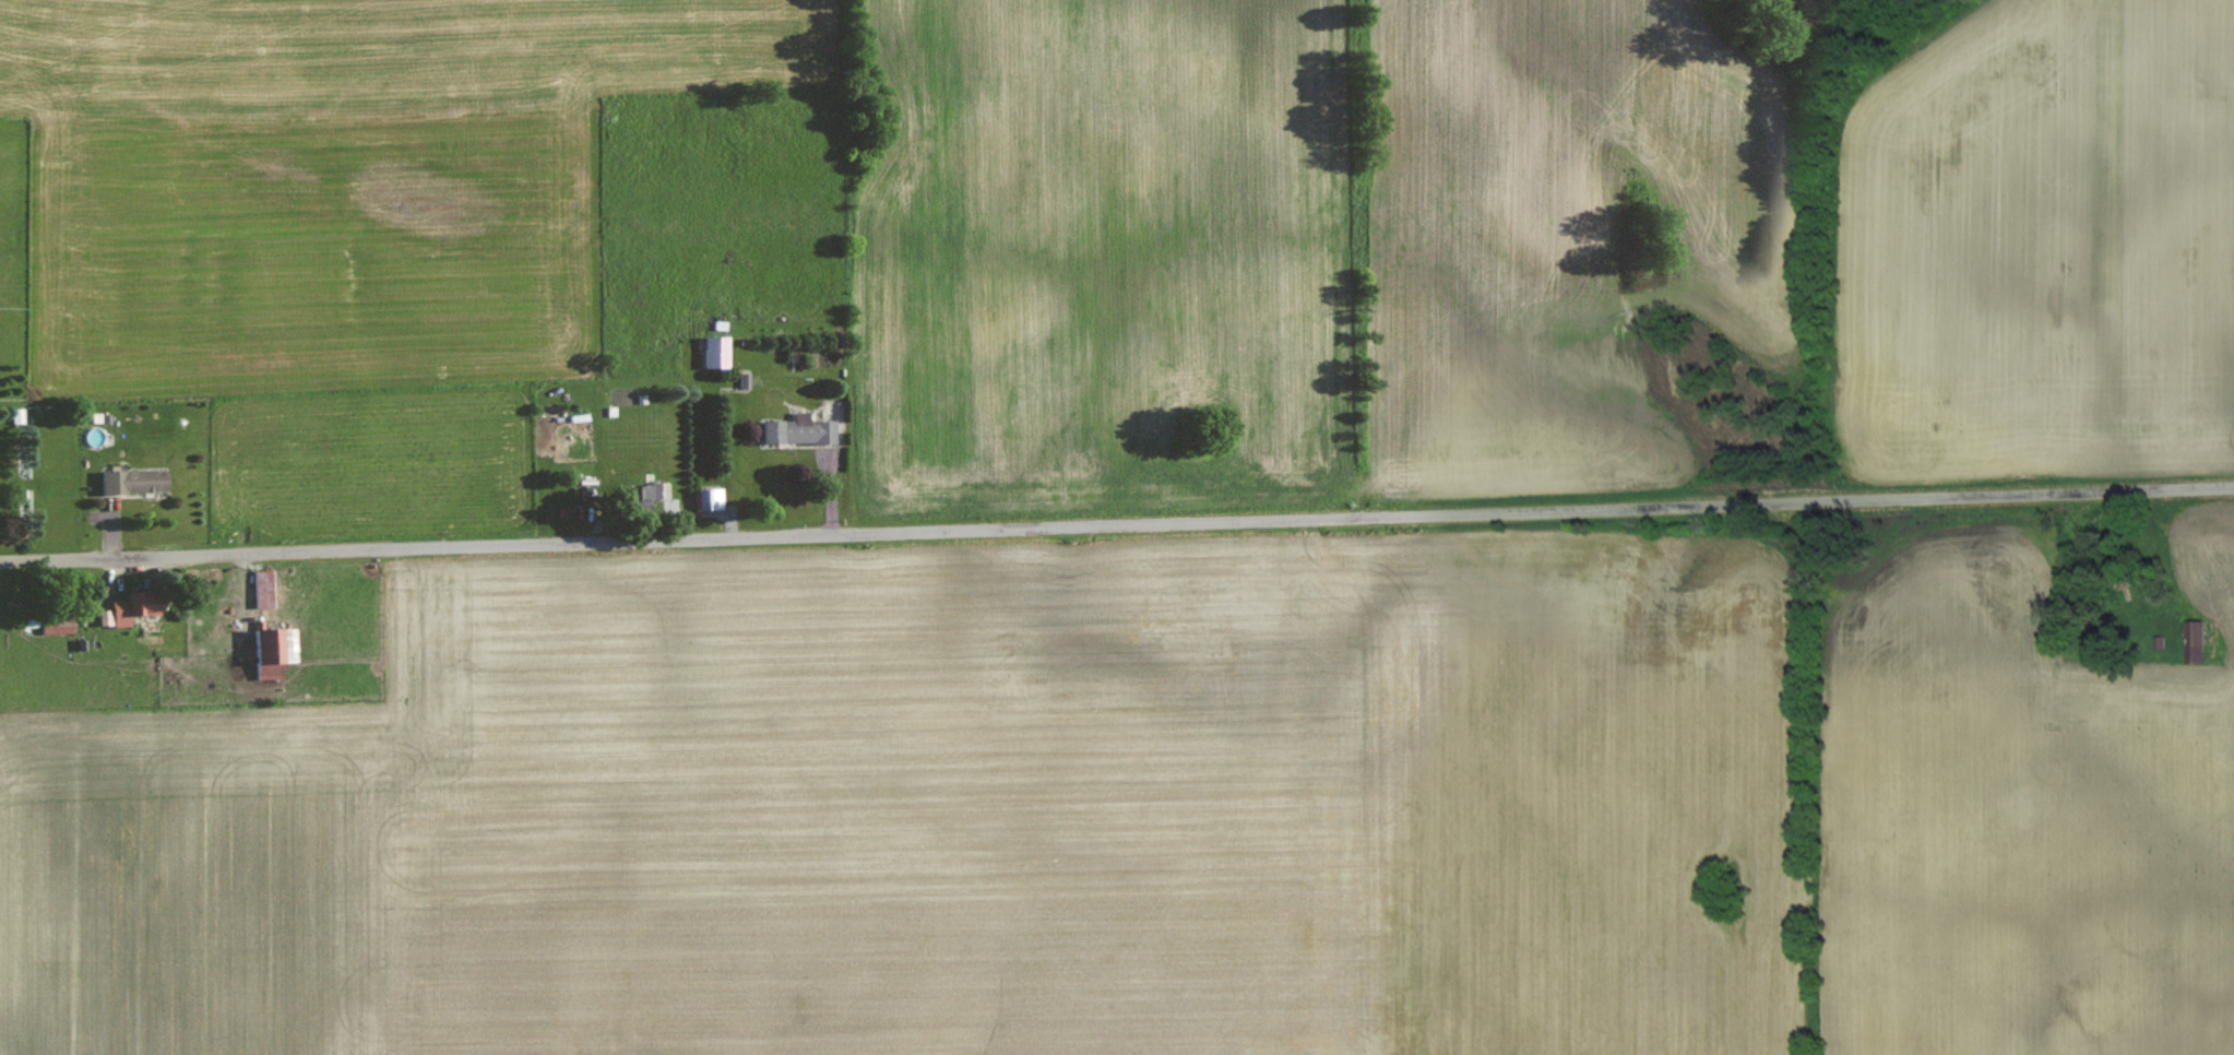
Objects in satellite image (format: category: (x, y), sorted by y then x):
building: (713, 352)
building: (794, 430)
building: (584, 478)
building: (128, 482)
building: (634, 497)
building: (706, 499)
road: (1116, 520)
building: (126, 609)
building: (51, 626)
building: (2193, 641)
building: (274, 647)

